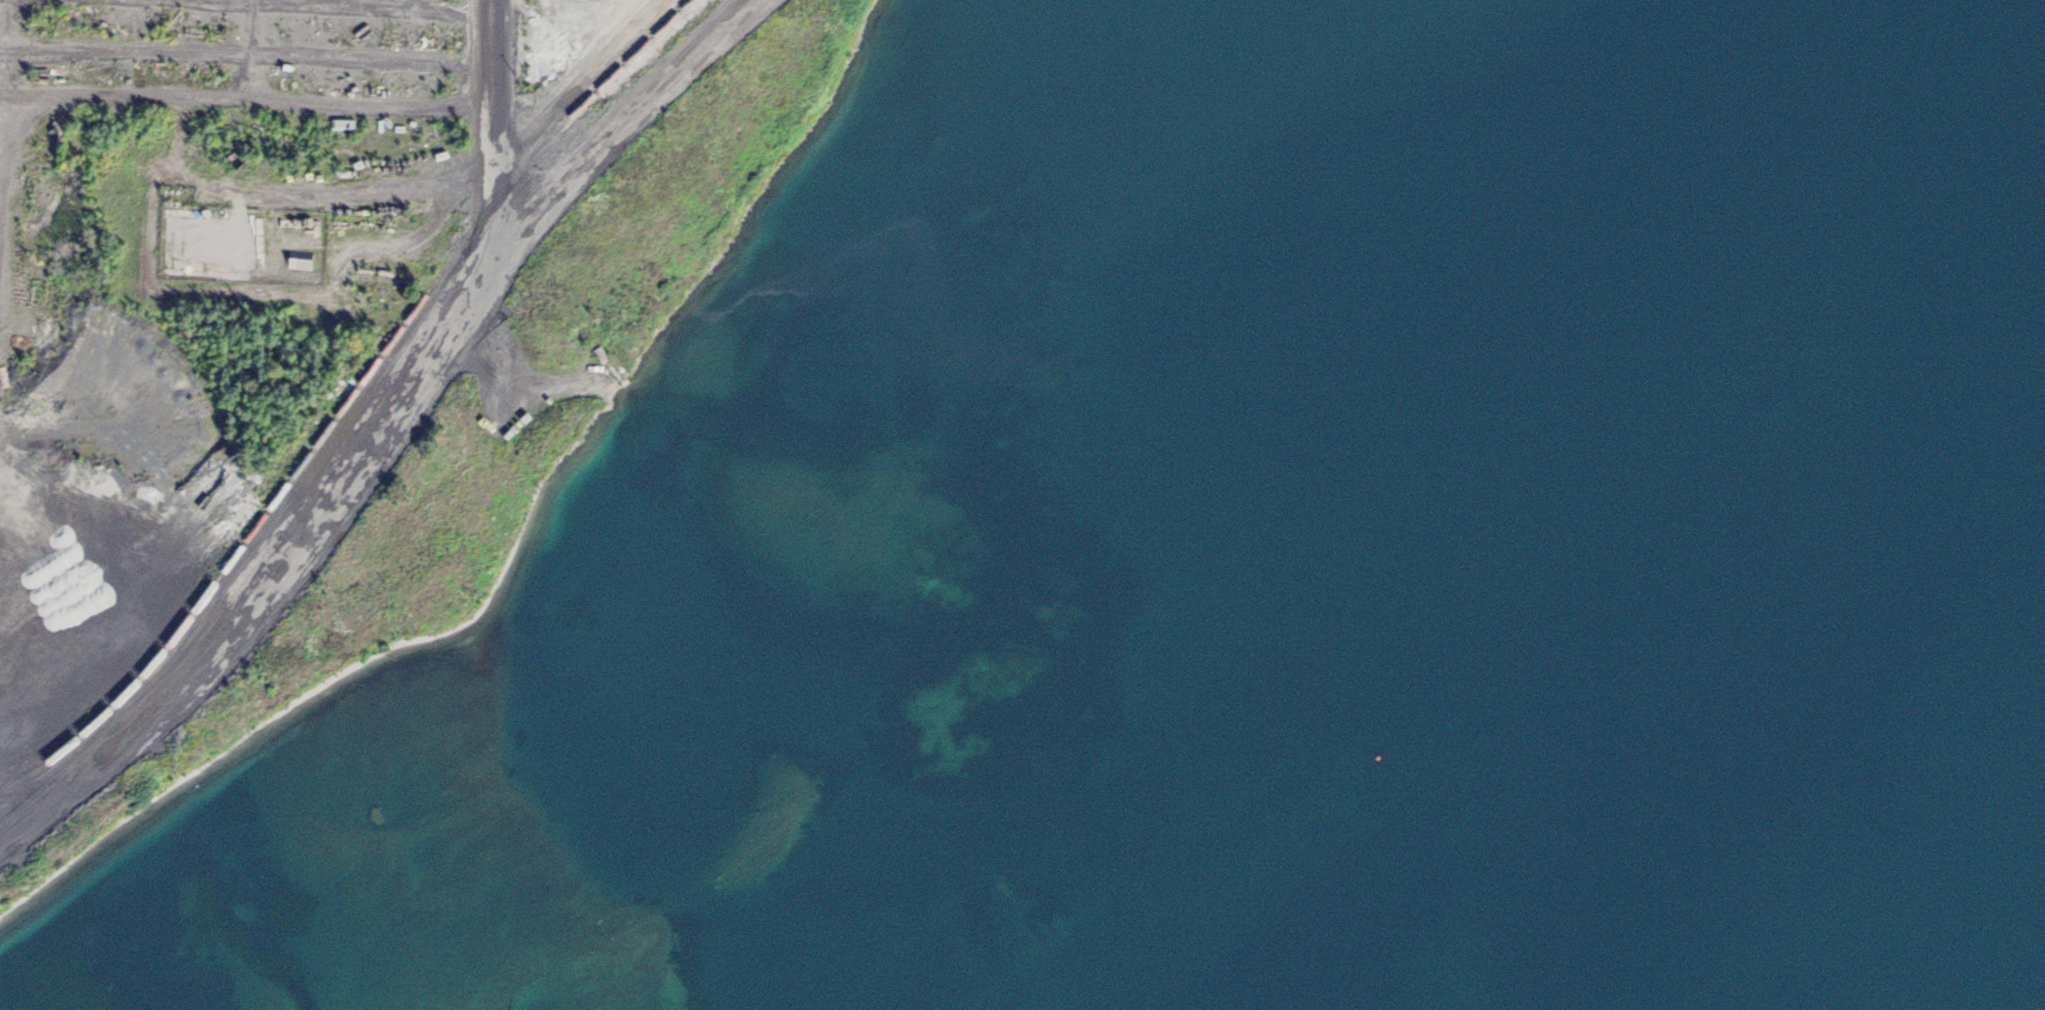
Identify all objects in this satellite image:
railway: (349, 405)

